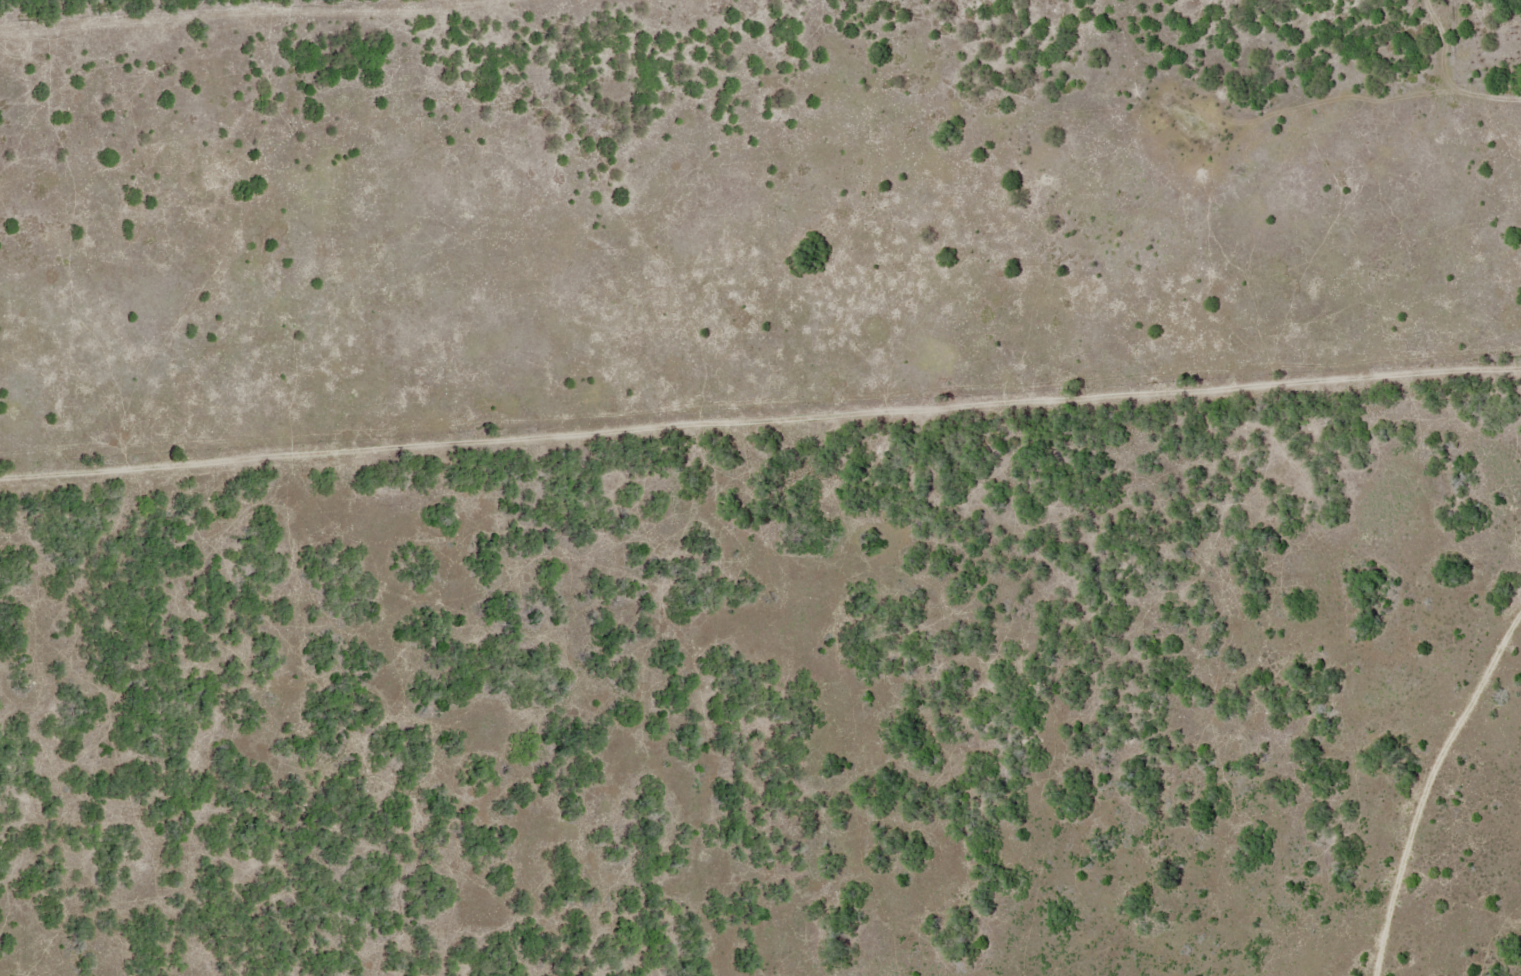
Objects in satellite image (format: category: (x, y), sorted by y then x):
road: (1424, 779)

